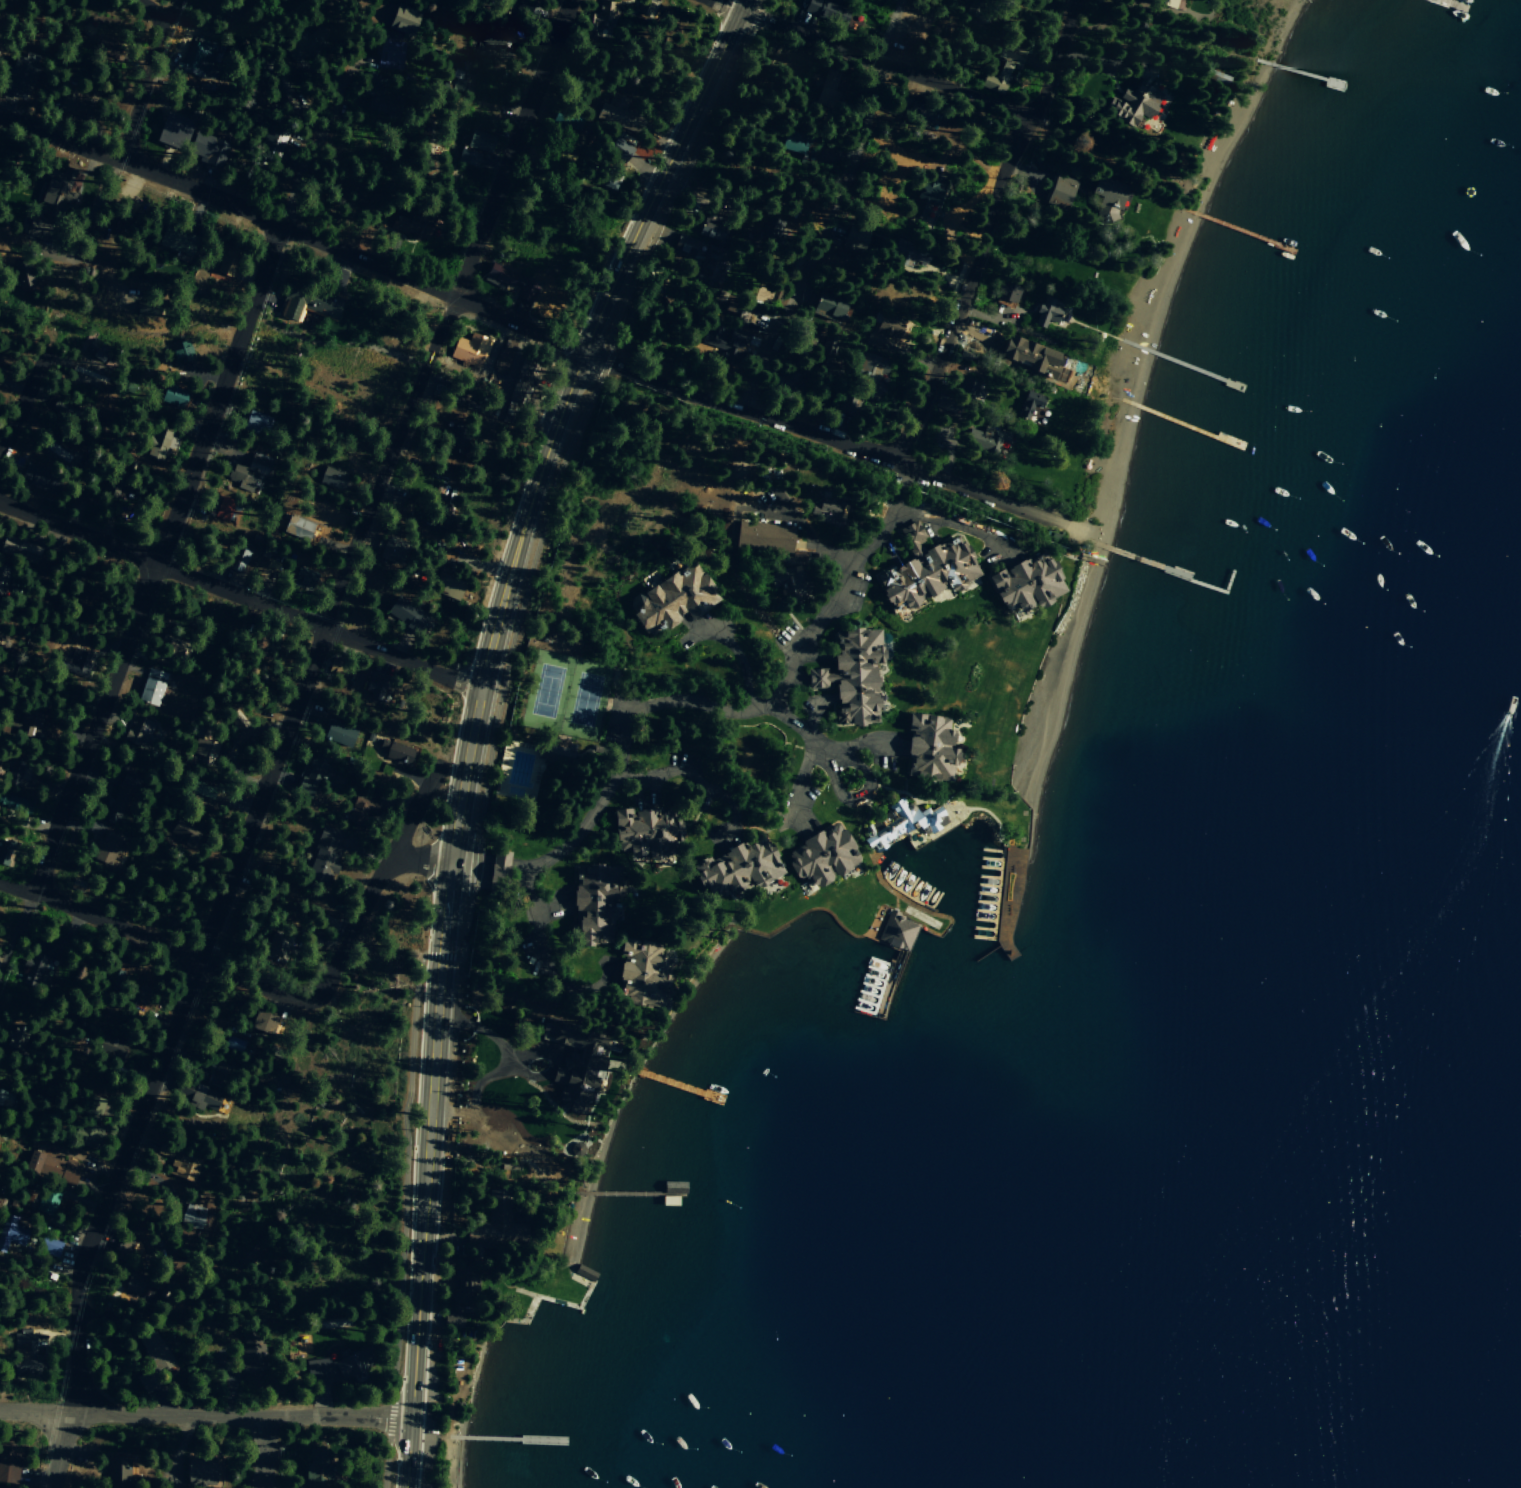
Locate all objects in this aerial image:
building: (1162, 2)
pier: (1454, 4)
building: (644, 8)
road: (151, 11)
building: (227, 11)
building: (525, 13)
building: (832, 14)
building: (602, 15)
building: (404, 20)
building: (493, 39)
building: (303, 40)
building: (93, 47)
building: (389, 56)
building: (196, 59)
road: (862, 65)
building: (1003, 68)
pier: (1301, 75)
building: (17, 77)
road: (146, 78)
building: (451, 85)
building: (828, 88)
building: (376, 89)
building: (284, 95)
building: (77, 99)
building: (1134, 101)
building: (616, 114)
road: (326, 118)
building: (562, 119)
building: (172, 132)
building: (479, 140)
building: (792, 143)
building: (269, 145)
building: (206, 149)
building: (619, 150)
building: (467, 158)
building: (609, 181)
building: (57, 192)
building: (1060, 192)
building: (926, 196)
building: (1109, 200)
road: (821, 205)
road: (94, 210)
building: (132, 219)
building: (712, 225)
building: (411, 226)
pier: (1243, 231)
road: (983, 232)
building: (176, 241)
building: (858, 243)
building: (685, 246)
building: (907, 253)
building: (227, 258)
building: (706, 272)
building: (25, 274)
building: (512, 282)
building: (1006, 295)
building: (308, 300)
building: (828, 307)
building: (160, 308)
building: (1047, 313)
building: (887, 325)
road: (205, 326)
road: (537, 332)
building: (470, 350)
building: (180, 353)
building: (97, 354)
building: (503, 358)
pier: (1179, 364)
building: (865, 378)
building: (521, 379)
building: (786, 382)
building: (173, 395)
building: (1030, 404)
road: (19, 407)
building: (63, 407)
building: (255, 422)
pier: (1180, 423)
building: (457, 437)
building: (985, 440)
building: (155, 445)
building: (56, 449)
building: (235, 474)
road: (543, 475)
building: (502, 476)
building: (333, 479)
building: (120, 489)
building: (219, 508)
building: (828, 509)
building: (441, 513)
building: (296, 528)
building: (764, 537)
building: (15, 549)
building: (391, 554)
road: (835, 554)
pier: (1153, 558)
road: (157, 560)
building: (234, 560)
road: (856, 565)
building: (254, 567)
building: (927, 570)
building: (303, 579)
building: (789, 583)
building: (1027, 584)
building: (447, 587)
road: (241, 597)
building: (674, 599)
building: (406, 615)
building: (79, 661)
road: (740, 663)
building: (852, 676)
building: (151, 685)
building: (372, 685)
building: (29, 723)
building: (137, 731)
building: (337, 733)
road: (622, 733)
road: (492, 734)
road: (281, 737)
building: (930, 746)
road: (822, 747)
building: (208, 748)
building: (400, 753)
building: (552, 753)
building: (310, 773)
road: (671, 773)
building: (17, 775)
building: (125, 782)
building: (199, 788)
road: (639, 790)
road: (865, 795)
building: (15, 804)
building: (364, 806)
building: (902, 823)
building: (645, 832)
building: (324, 850)
building: (104, 851)
building: (4, 853)
building: (822, 855)
road: (421, 859)
building: (498, 864)
building: (737, 867)
road: (377, 884)
building: (593, 904)
road: (14, 928)
building: (897, 931)
road: (153, 944)
building: (275, 949)
road: (540, 952)
building: (33, 966)
building: (641, 973)
pier: (888, 988)
building: (13, 1039)
building: (233, 1043)
building: (110, 1047)
building: (574, 1063)
pier: (678, 1083)
building: (196, 1095)
building: (5, 1096)
building: (86, 1131)
building: (180, 1163)
building: (51, 1165)
pier: (625, 1189)
building: (48, 1198)
building: (191, 1216)
building: (488, 1227)
road: (422, 1234)
building: (7, 1235)
building: (49, 1246)
building: (465, 1274)
building: (133, 1283)
building: (453, 1318)
building: (24, 1347)
building: (154, 1351)
building: (250, 1358)
building: (333, 1368)
road: (206, 1415)
pier: (507, 1432)
road: (262, 1452)
building: (8, 1462)
building: (117, 1470)
building: (201, 1472)
building: (316, 1476)

